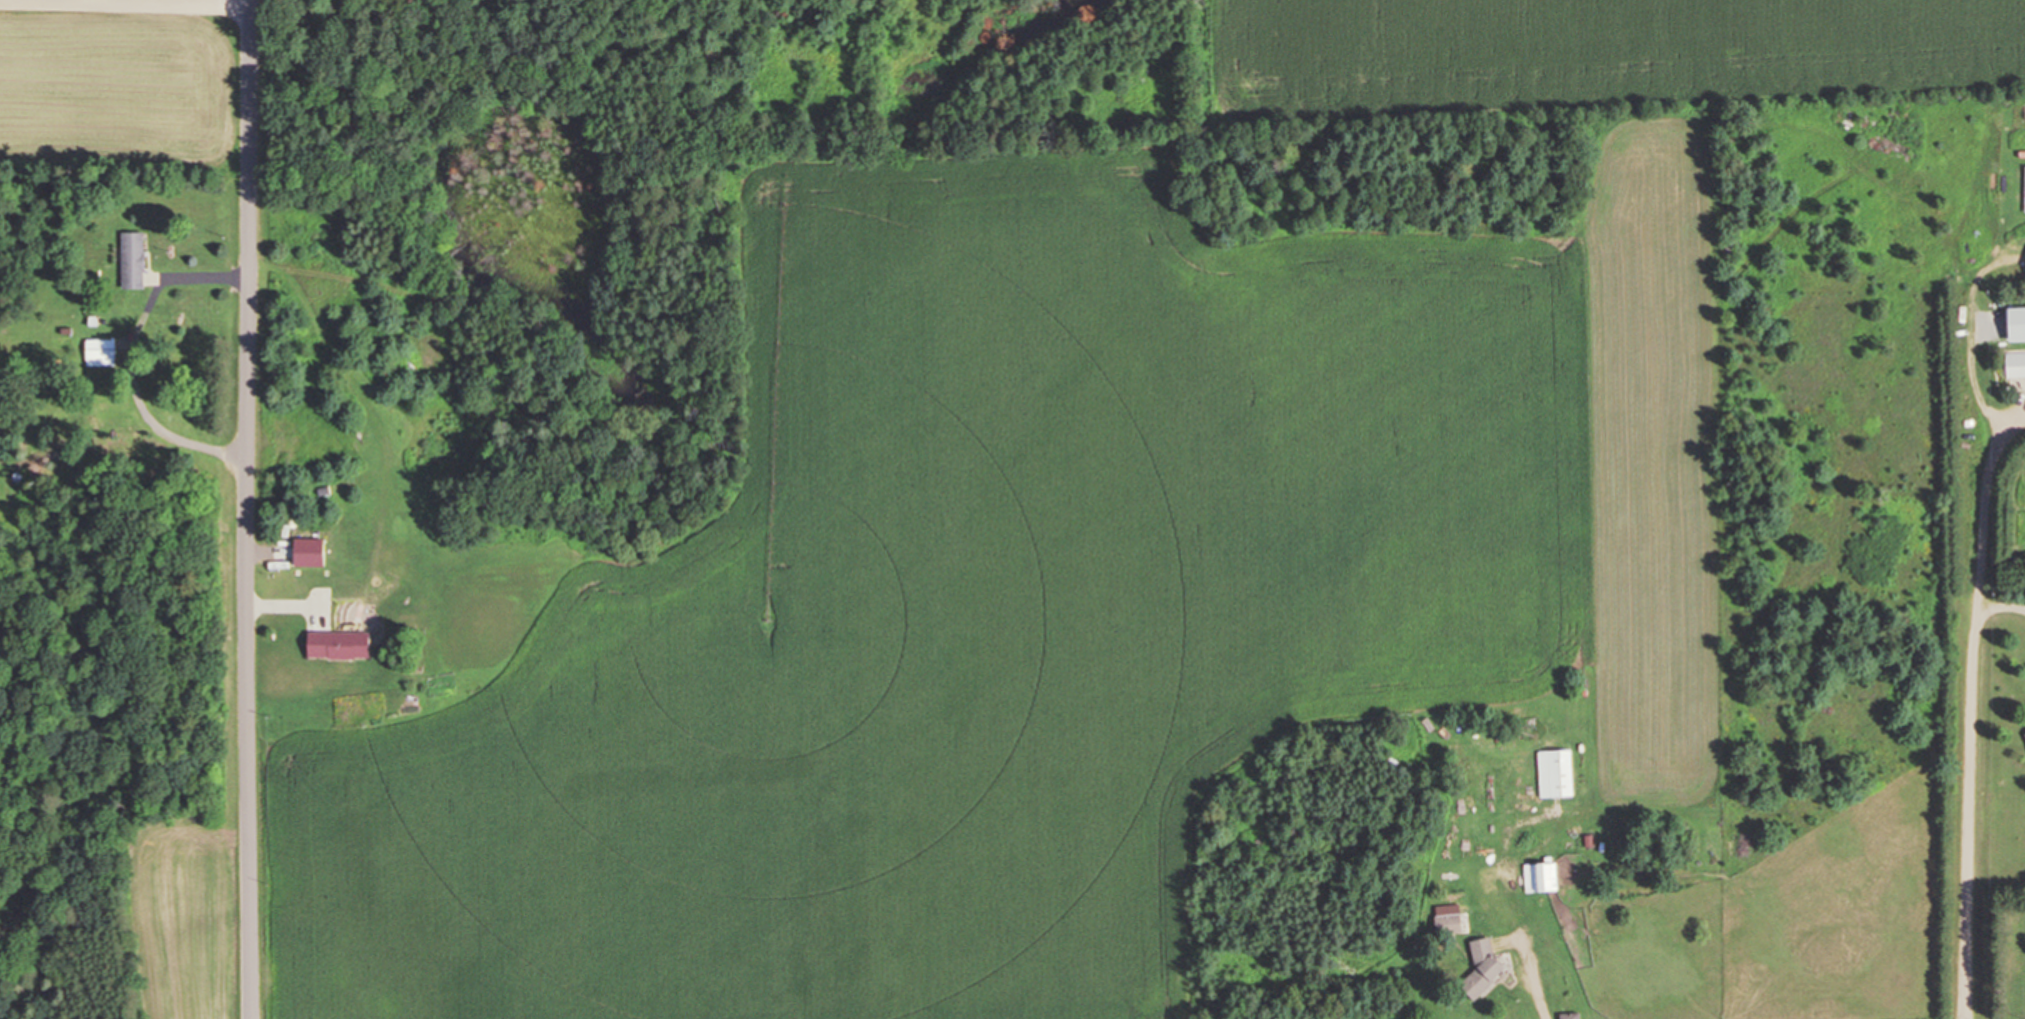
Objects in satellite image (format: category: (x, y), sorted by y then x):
building: (131, 260)
building: (99, 352)
building: (2014, 364)
road: (249, 509)
building: (336, 644)
building: (2023, 736)
building: (1553, 774)
building: (1538, 877)
building: (1446, 924)
building: (1479, 967)
building: (1568, 1016)

